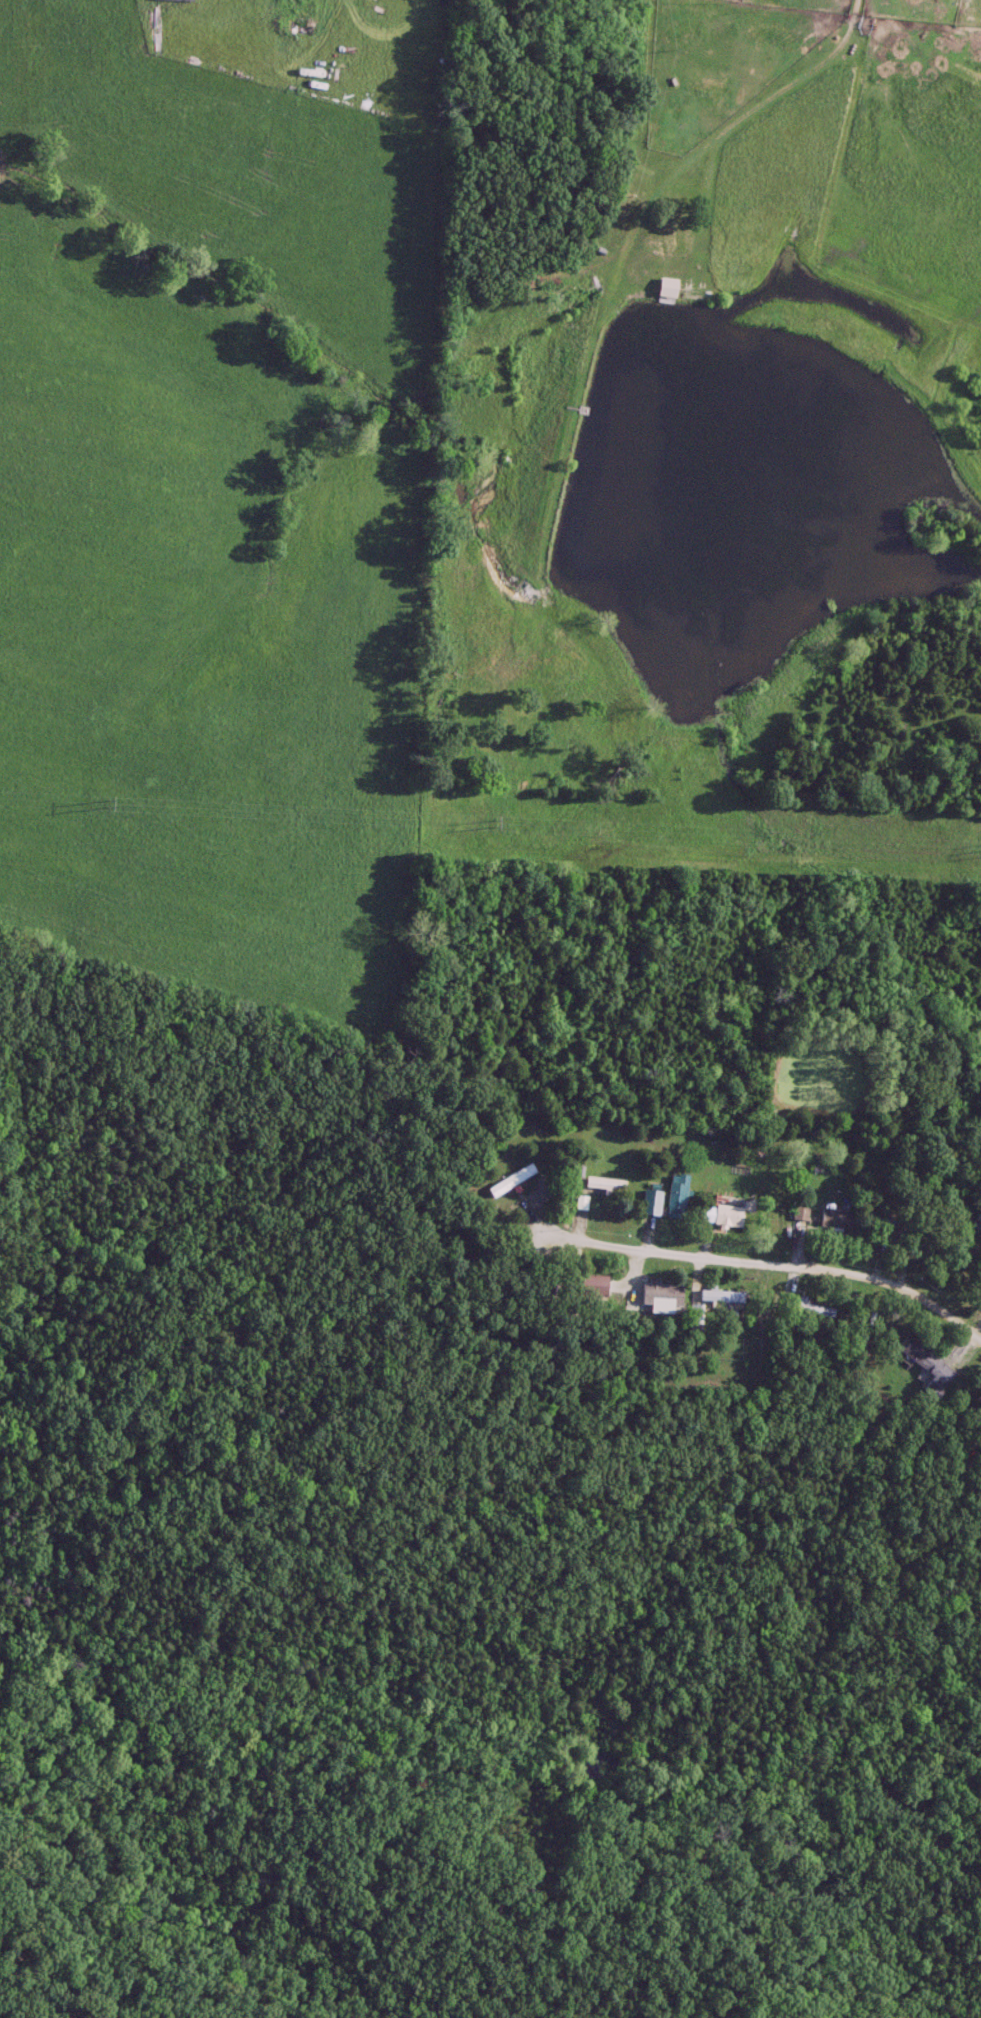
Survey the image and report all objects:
building: (665, 290)
road: (300, 425)
power tower: (106, 804)
power tower: (496, 825)
building: (508, 1181)
building: (602, 1185)
building: (649, 1202)
building: (797, 1212)
building: (978, 1217)
building: (726, 1218)
building: (835, 1220)
road: (762, 1263)
building: (590, 1286)
building: (647, 1295)
building: (719, 1298)
building: (809, 1310)
building: (926, 1367)

